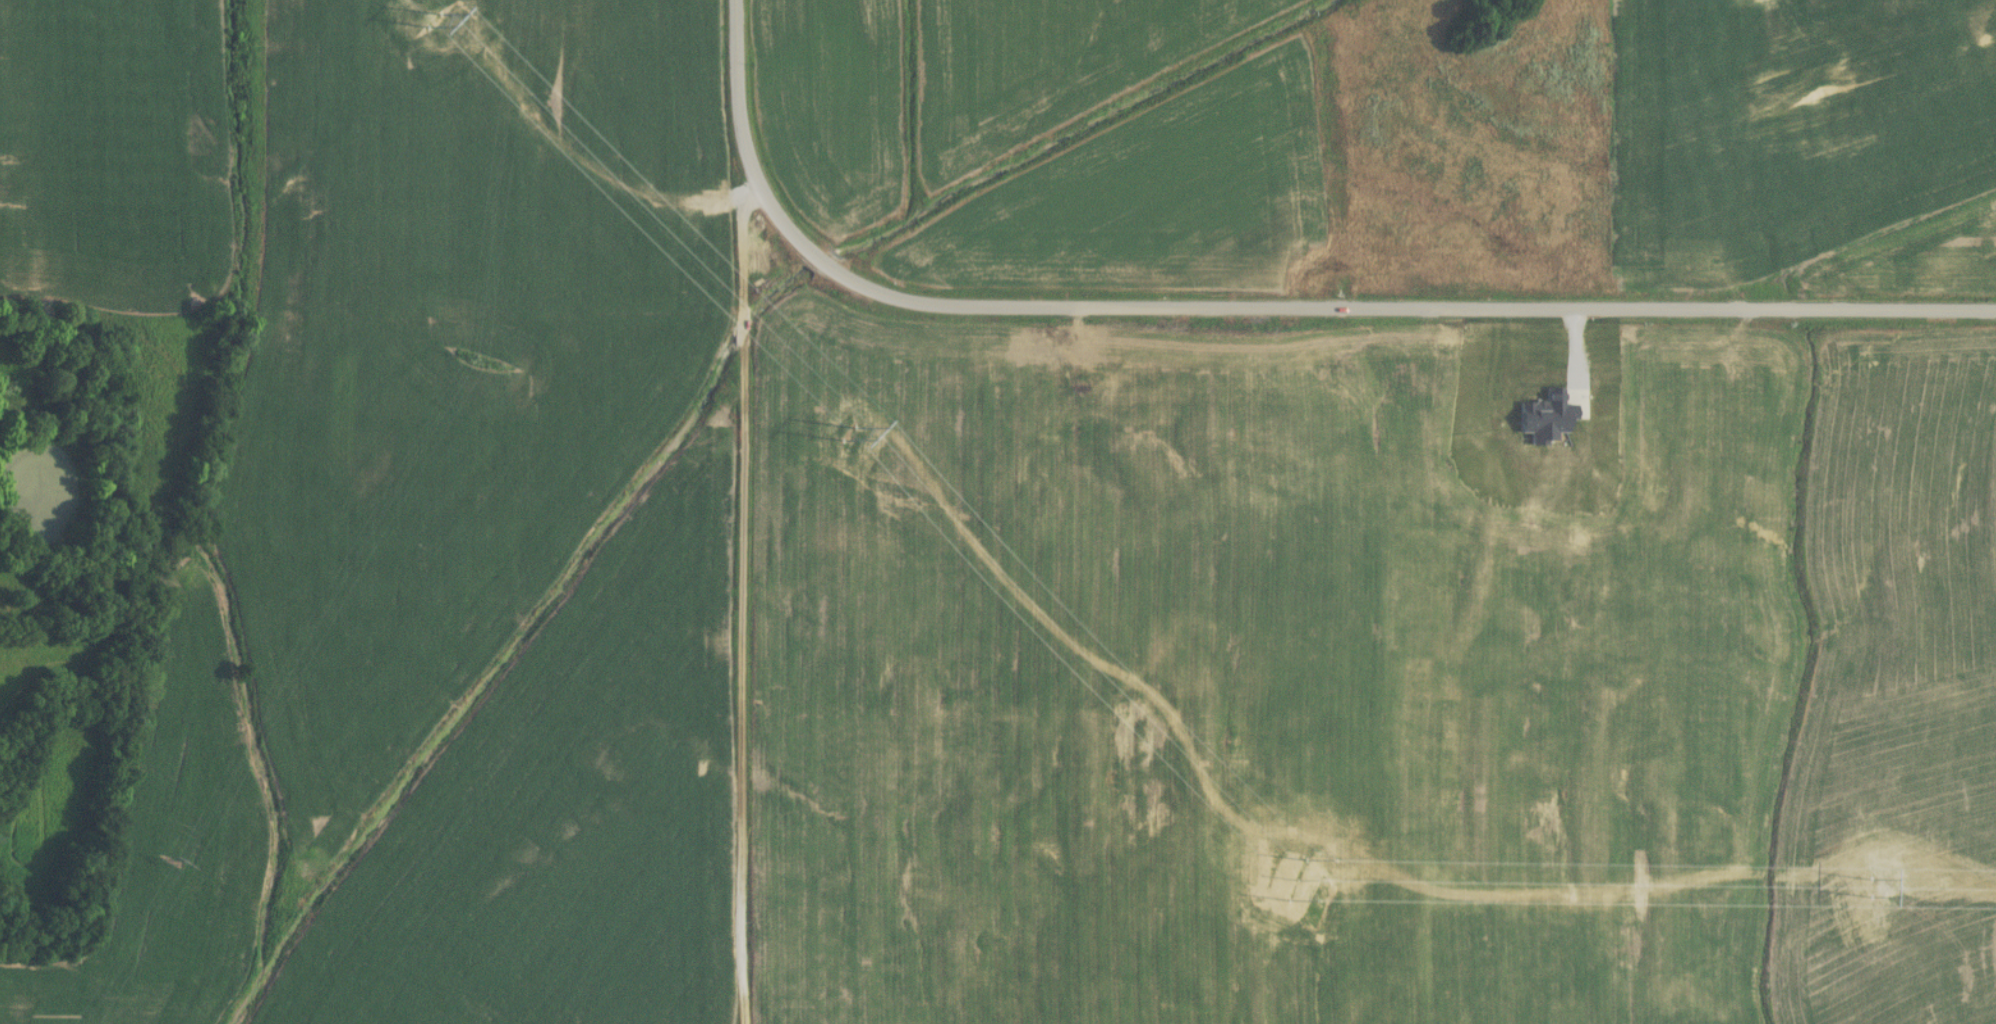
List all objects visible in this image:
power tower: (446, 22)
road: (758, 304)
road: (1260, 308)
power tower: (869, 434)
power tower: (1293, 881)
power tower: (1879, 886)

